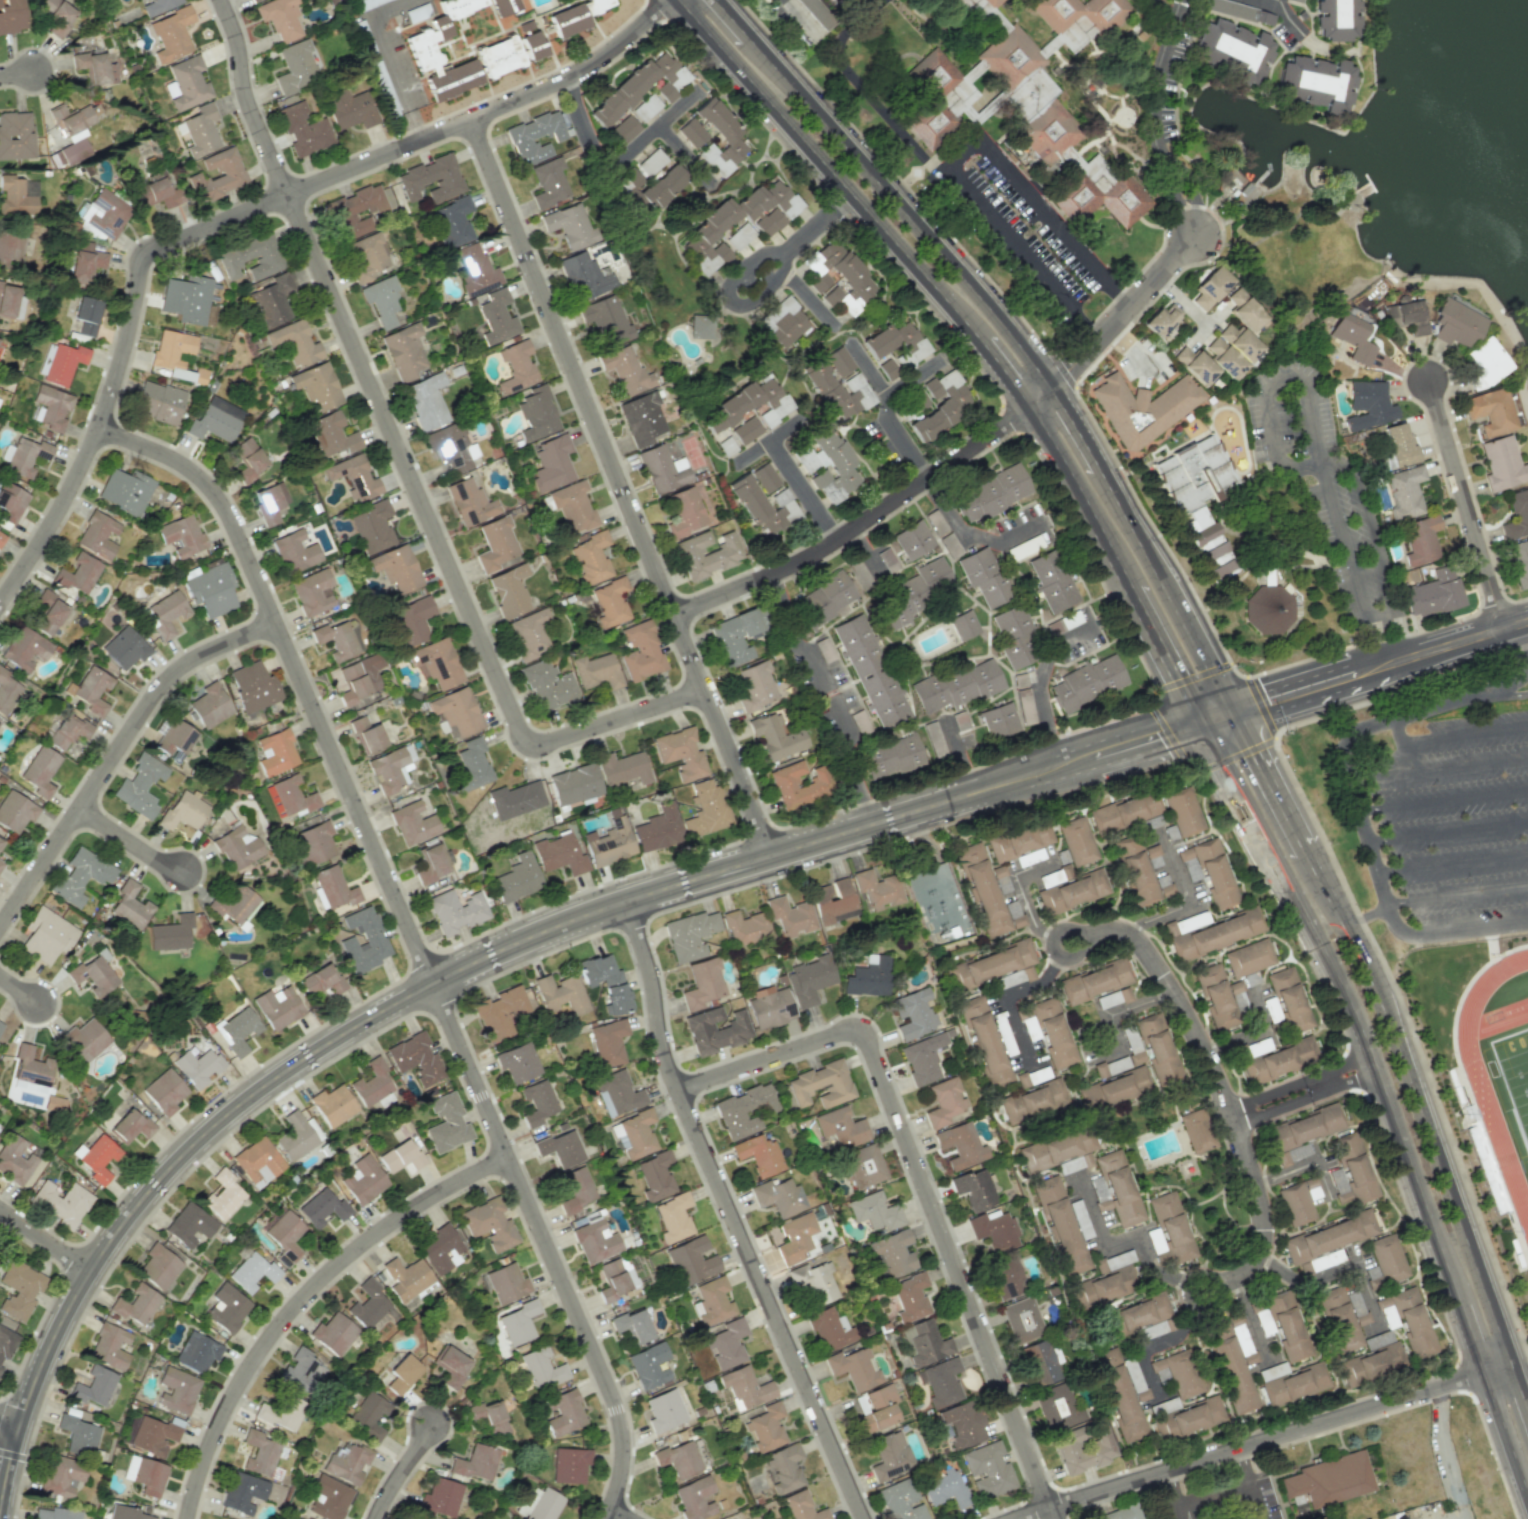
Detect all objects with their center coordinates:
building: (253, 0)
building: (953, 0)
building: (1295, 0)
building: (970, 1)
building: (992, 2)
building: (839, 3)
road: (1264, 3)
road: (1276, 3)
road: (1168, 5)
building: (157, 6)
road: (383, 7)
building: (1240, 11)
road: (799, 15)
building: (11, 16)
building: (55, 16)
building: (575, 16)
building: (280, 18)
building: (1079, 19)
building: (1336, 19)
road: (1292, 22)
building: (171, 34)
building: (532, 45)
building: (422, 49)
building: (1231, 49)
road: (728, 55)
building: (499, 56)
building: (296, 66)
building: (94, 68)
road: (17, 73)
road: (395, 77)
road: (854, 80)
building: (188, 82)
building: (1315, 83)
building: (641, 85)
road: (1158, 93)
building: (939, 99)
road: (244, 100)
building: (349, 109)
building: (303, 129)
building: (624, 129)
building: (200, 130)
building: (691, 132)
building: (1055, 132)
building: (16, 135)
building: (534, 137)
building: (720, 137)
road: (685, 153)
road: (960, 154)
road: (614, 160)
building: (651, 162)
building: (230, 175)
building: (632, 178)
building: (431, 179)
building: (549, 182)
building: (661, 187)
building: (154, 190)
building: (17, 196)
building: (355, 210)
road: (239, 213)
building: (103, 216)
building: (453, 221)
road: (814, 222)
building: (713, 224)
building: (569, 225)
road: (881, 226)
building: (10, 247)
building: (366, 257)
building: (250, 258)
building: (83, 265)
building: (474, 269)
building: (585, 276)
building: (838, 277)
building: (1209, 287)
road: (1116, 292)
road: (807, 296)
building: (7, 299)
building: (188, 299)
building: (271, 300)
building: (381, 300)
road: (1130, 302)
road: (730, 303)
building: (1244, 310)
building: (86, 315)
building: (1405, 316)
building: (496, 317)
building: (606, 319)
building: (1161, 320)
building: (782, 322)
building: (1455, 323)
road: (1085, 324)
building: (701, 326)
building: (1353, 336)
building: (1239, 342)
building: (294, 343)
building: (896, 343)
building: (171, 348)
building: (403, 351)
building: (1224, 358)
building: (839, 361)
building: (60, 363)
building: (1486, 363)
building: (1194, 364)
road: (929, 366)
building: (515, 367)
building: (887, 369)
building: (625, 370)
road: (1008, 375)
building: (316, 385)
building: (836, 391)
building: (158, 401)
building: (425, 401)
building: (1369, 404)
building: (747, 405)
building: (940, 405)
building: (52, 407)
building: (1141, 407)
building: (1490, 411)
building: (536, 414)
building: (642, 418)
building: (215, 419)
road: (1272, 426)
building: (746, 430)
building: (331, 435)
building: (1399, 445)
building: (451, 446)
building: (726, 446)
building: (23, 456)
building: (248, 459)
building: (551, 463)
building: (1502, 463)
building: (828, 464)
building: (662, 469)
road: (927, 475)
building: (353, 477)
road: (621, 487)
building: (125, 491)
road: (803, 491)
building: (1405, 492)
building: (993, 493)
road: (1082, 495)
building: (1198, 497)
building: (763, 500)
building: (11, 502)
building: (270, 502)
building: (469, 502)
road: (1469, 505)
building: (573, 508)
building: (684, 512)
building: (1517, 514)
road: (1371, 524)
road: (859, 525)
road: (1340, 525)
building: (372, 527)
building: (97, 535)
building: (181, 535)
building: (1, 539)
building: (912, 539)
building: (1420, 540)
building: (495, 544)
building: (295, 552)
building: (706, 554)
road: (443, 555)
building: (590, 556)
road: (866, 559)
building: (1519, 562)
building: (396, 568)
building: (78, 574)
building: (984, 576)
building: (1052, 580)
building: (210, 590)
building: (509, 591)
building: (312, 592)
building: (916, 592)
building: (1433, 594)
building: (826, 597)
building: (609, 602)
building: (1268, 610)
building: (48, 613)
building: (165, 614)
road: (1381, 615)
building: (410, 621)
building: (964, 625)
building: (528, 633)
building: (1014, 635)
road: (1400, 635)
building: (734, 637)
building: (339, 639)
building: (124, 648)
building: (25, 649)
building: (824, 650)
building: (640, 651)
road: (1162, 653)
road: (1038, 656)
road: (1203, 659)
building: (436, 662)
road: (1523, 664)
road: (1380, 666)
building: (596, 671)
building: (870, 671)
road: (1194, 674)
building: (360, 678)
building: (1087, 682)
building: (548, 685)
building: (754, 686)
building: (955, 686)
building: (253, 687)
building: (92, 690)
building: (7, 692)
road: (820, 700)
building: (209, 706)
building: (456, 711)
road: (1213, 717)
building: (999, 720)
road: (1380, 720)
road: (1397, 730)
building: (68, 731)
road: (1166, 733)
road: (1466, 734)
building: (366, 735)
building: (775, 737)
building: (174, 740)
road: (1270, 741)
road: (119, 751)
building: (275, 752)
building: (680, 752)
building: (892, 756)
road: (1400, 756)
road: (958, 760)
building: (470, 766)
road: (1438, 767)
building: (391, 768)
building: (622, 769)
building: (40, 771)
road: (1226, 776)
building: (818, 782)
building: (574, 784)
building: (140, 785)
building: (291, 796)
building: (516, 799)
road: (1444, 799)
building: (706, 809)
building: (183, 810)
building: (15, 811)
building: (1183, 812)
building: (1123, 813)
building: (413, 823)
parking lot: (1447, 827)
building: (658, 829)
road: (1450, 831)
building: (310, 840)
building: (0, 841)
road: (131, 841)
building: (1019, 841)
building: (1077, 841)
building: (237, 847)
building: (559, 854)
road: (1453, 861)
building: (1, 863)
building: (431, 863)
building: (1208, 871)
building: (1138, 872)
road: (1379, 873)
building: (80, 876)
building: (517, 878)
building: (1050, 878)
building: (333, 888)
building: (876, 889)
building: (1072, 892)
building: (985, 894)
road: (1022, 894)
road: (1459, 894)
road: (1184, 898)
building: (832, 901)
building: (236, 902)
building: (129, 906)
building: (456, 911)
building: (789, 916)
road: (1366, 916)
building: (744, 927)
building: (1177, 928)
road: (1449, 931)
building: (170, 933)
building: (689, 934)
building: (1215, 934)
building: (46, 935)
building: (372, 938)
road: (416, 938)
road: (514, 942)
road: (1052, 946)
building: (1248, 958)
building: (990, 964)
building: (92, 975)
building: (868, 977)
building: (1015, 977)
building: (321, 980)
building: (809, 980)
building: (605, 981)
building: (1093, 981)
building: (702, 983)
road: (19, 989)
building: (560, 993)
building: (1216, 997)
road: (1008, 999)
building: (1288, 1000)
building: (278, 1007)
building: (770, 1007)
road: (1122, 1011)
building: (500, 1013)
building: (913, 1013)
building: (1, 1025)
building: (237, 1030)
building: (716, 1030)
road: (1249, 1032)
building: (1053, 1033)
building: (85, 1039)
building: (984, 1041)
building: (608, 1042)
building: (1157, 1049)
building: (415, 1059)
building: (922, 1059)
road: (1373, 1060)
building: (1279, 1061)
building: (517, 1063)
building: (198, 1067)
track: (1497, 1067)
building: (28, 1074)
park: (1513, 1079)
building: (371, 1083)
building: (820, 1084)
road: (1218, 1085)
building: (1112, 1089)
road: (1303, 1090)
building: (164, 1092)
building: (617, 1093)
building: (1032, 1101)
building: (537, 1102)
building: (944, 1102)
building: (53, 1104)
building: (332, 1105)
building: (744, 1110)
building: (447, 1123)
building: (130, 1126)
building: (1304, 1126)
building: (0, 1127)
building: (841, 1127)
building: (1196, 1130)
building: (634, 1134)
building: (294, 1136)
building: (960, 1145)
building: (560, 1147)
building: (1056, 1149)
building: (1293, 1153)
building: (758, 1155)
building: (97, 1157)
building: (400, 1157)
building: (1085, 1159)
building: (15, 1160)
building: (258, 1162)
building: (863, 1166)
building: (1354, 1168)
road: (1291, 1169)
building: (654, 1175)
building: (363, 1179)
building: (1339, 1185)
road: (922, 1186)
building: (1119, 1188)
building: (974, 1189)
building: (575, 1190)
building: (222, 1195)
building: (778, 1196)
building: (1299, 1201)
building: (61, 1203)
building: (322, 1207)
building: (874, 1211)
road: (731, 1213)
building: (673, 1217)
building: (489, 1224)
building: (189, 1225)
building: (1060, 1225)
building: (994, 1229)
building: (1168, 1230)
building: (284, 1237)
building: (795, 1238)
road: (46, 1241)
building: (595, 1241)
building: (1326, 1241)
road: (1123, 1242)
building: (440, 1249)
building: (892, 1252)
building: (1388, 1258)
building: (691, 1260)
building: (158, 1266)
building: (252, 1272)
road: (1334, 1272)
building: (407, 1277)
building: (1006, 1278)
building: (612, 1279)
building: (506, 1283)
building: (813, 1284)
road: (1191, 1285)
building: (18, 1287)
building: (1102, 1288)
building: (909, 1297)
road: (305, 1298)
building: (713, 1301)
building: (135, 1304)
building: (368, 1304)
building: (227, 1308)
building: (1135, 1314)
building: (1022, 1319)
road: (1250, 1319)
building: (1338, 1319)
building: (1264, 1321)
building: (517, 1322)
building: (632, 1325)
building: (1286, 1326)
building: (831, 1329)
building: (333, 1333)
road: (1472, 1338)
building: (6, 1343)
building: (727, 1343)
building: (924, 1343)
road: (1156, 1343)
building: (109, 1346)
building: (197, 1352)
building: (1105, 1358)
building: (1041, 1361)
building: (1370, 1364)
building: (450, 1365)
building: (649, 1365)
building: (541, 1367)
building: (854, 1368)
road: (1497, 1368)
building: (298, 1369)
building: (1177, 1373)
building: (402, 1374)
building: (1233, 1375)
building: (942, 1382)
building: (1293, 1384)
building: (95, 1386)
building: (745, 1387)
building: (177, 1390)
road: (1, 1401)
building: (1122, 1403)
building: (875, 1407)
building: (1058, 1407)
building: (664, 1410)
building: (281, 1411)
building: (561, 1412)
building: (368, 1415)
building: (488, 1417)
building: (1187, 1419)
building: (962, 1423)
road: (11, 1425)
building: (766, 1427)
road: (1506, 1434)
building: (77, 1435)
building: (153, 1435)
road: (1250, 1445)
building: (1082, 1448)
building: (259, 1453)
road: (13, 1454)
building: (890, 1456)
building: (679, 1459)
building: (475, 1462)
building: (347, 1464)
building: (569, 1465)
building: (783, 1468)
building: (987, 1469)
road: (403, 1472)
road: (12, 1474)
building: (145, 1475)
building: (62, 1476)
building: (1330, 1480)
road: (1249, 1484)
building: (945, 1489)
building: (242, 1492)
road: (1169, 1494)
road: (1211, 1495)
building: (328, 1497)
building: (440, 1498)
building: (694, 1498)
building: (899, 1501)
building: (539, 1506)
building: (802, 1507)
building: (53, 1513)
building: (125, 1513)
road: (619, 1513)
building: (1121, 1513)

